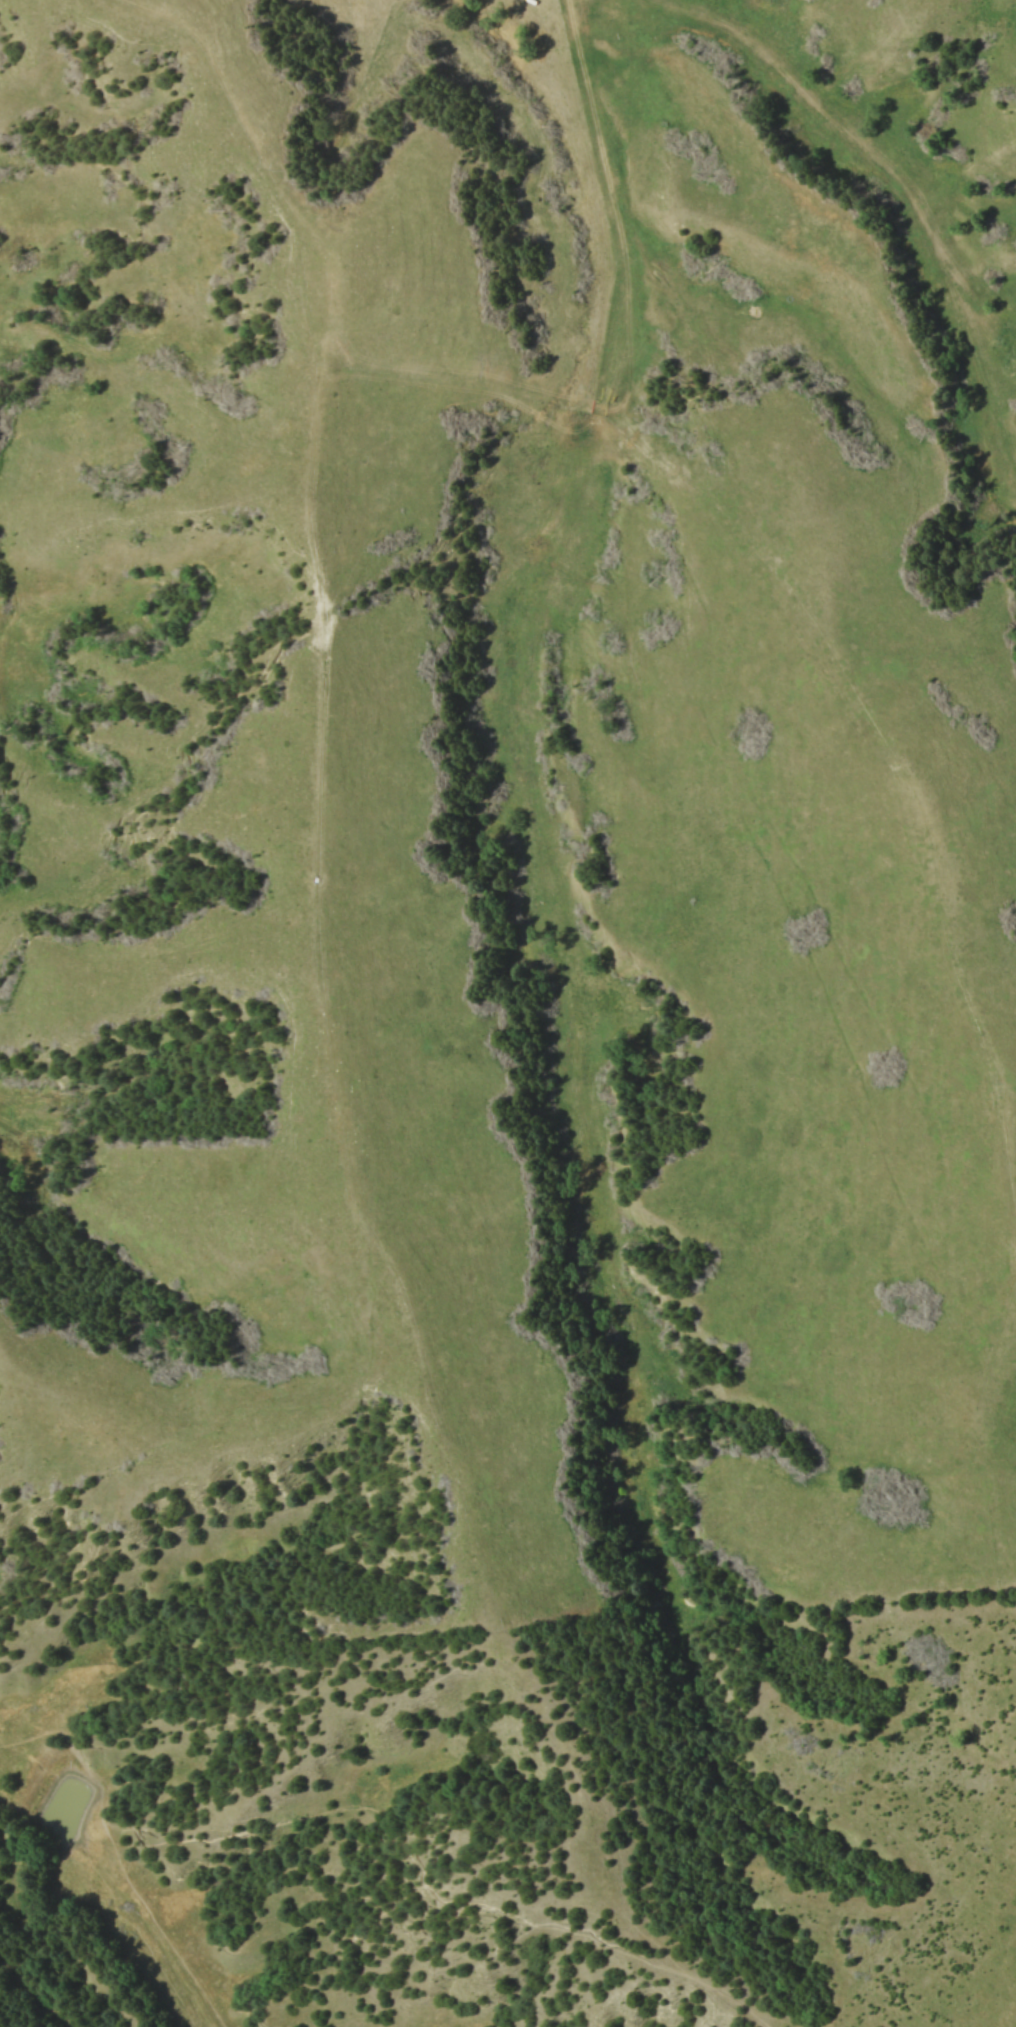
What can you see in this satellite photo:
road: (77, 1754)
crop: (525, 1829)
road: (218, 1839)
road: (531, 1924)
road: (157, 1925)
road: (24, 1990)

